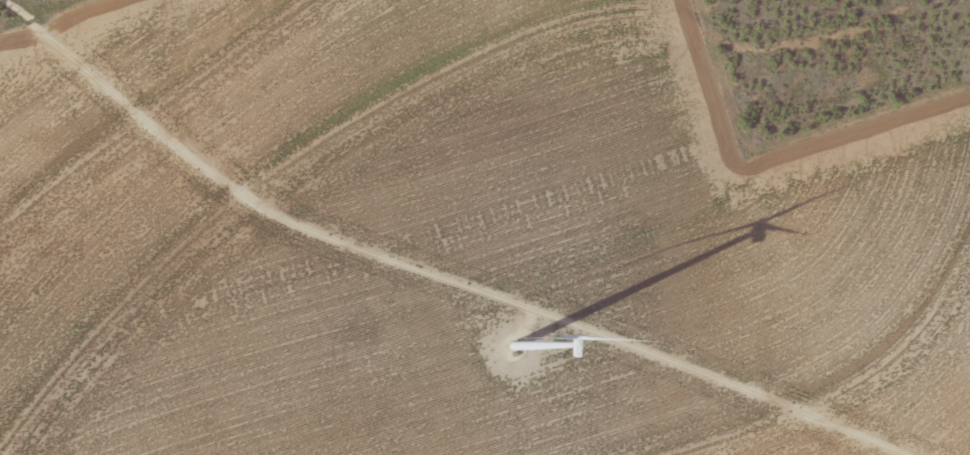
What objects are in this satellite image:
wind turbine: (529, 354)

